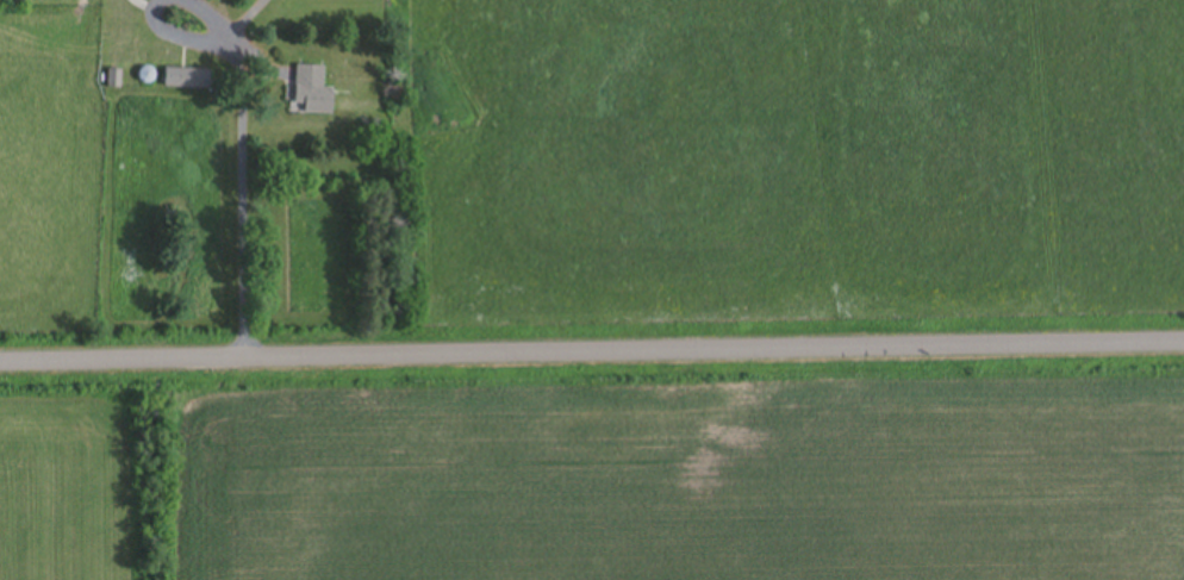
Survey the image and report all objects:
building: (187, 79)
building: (113, 80)
building: (312, 92)
road: (592, 349)

